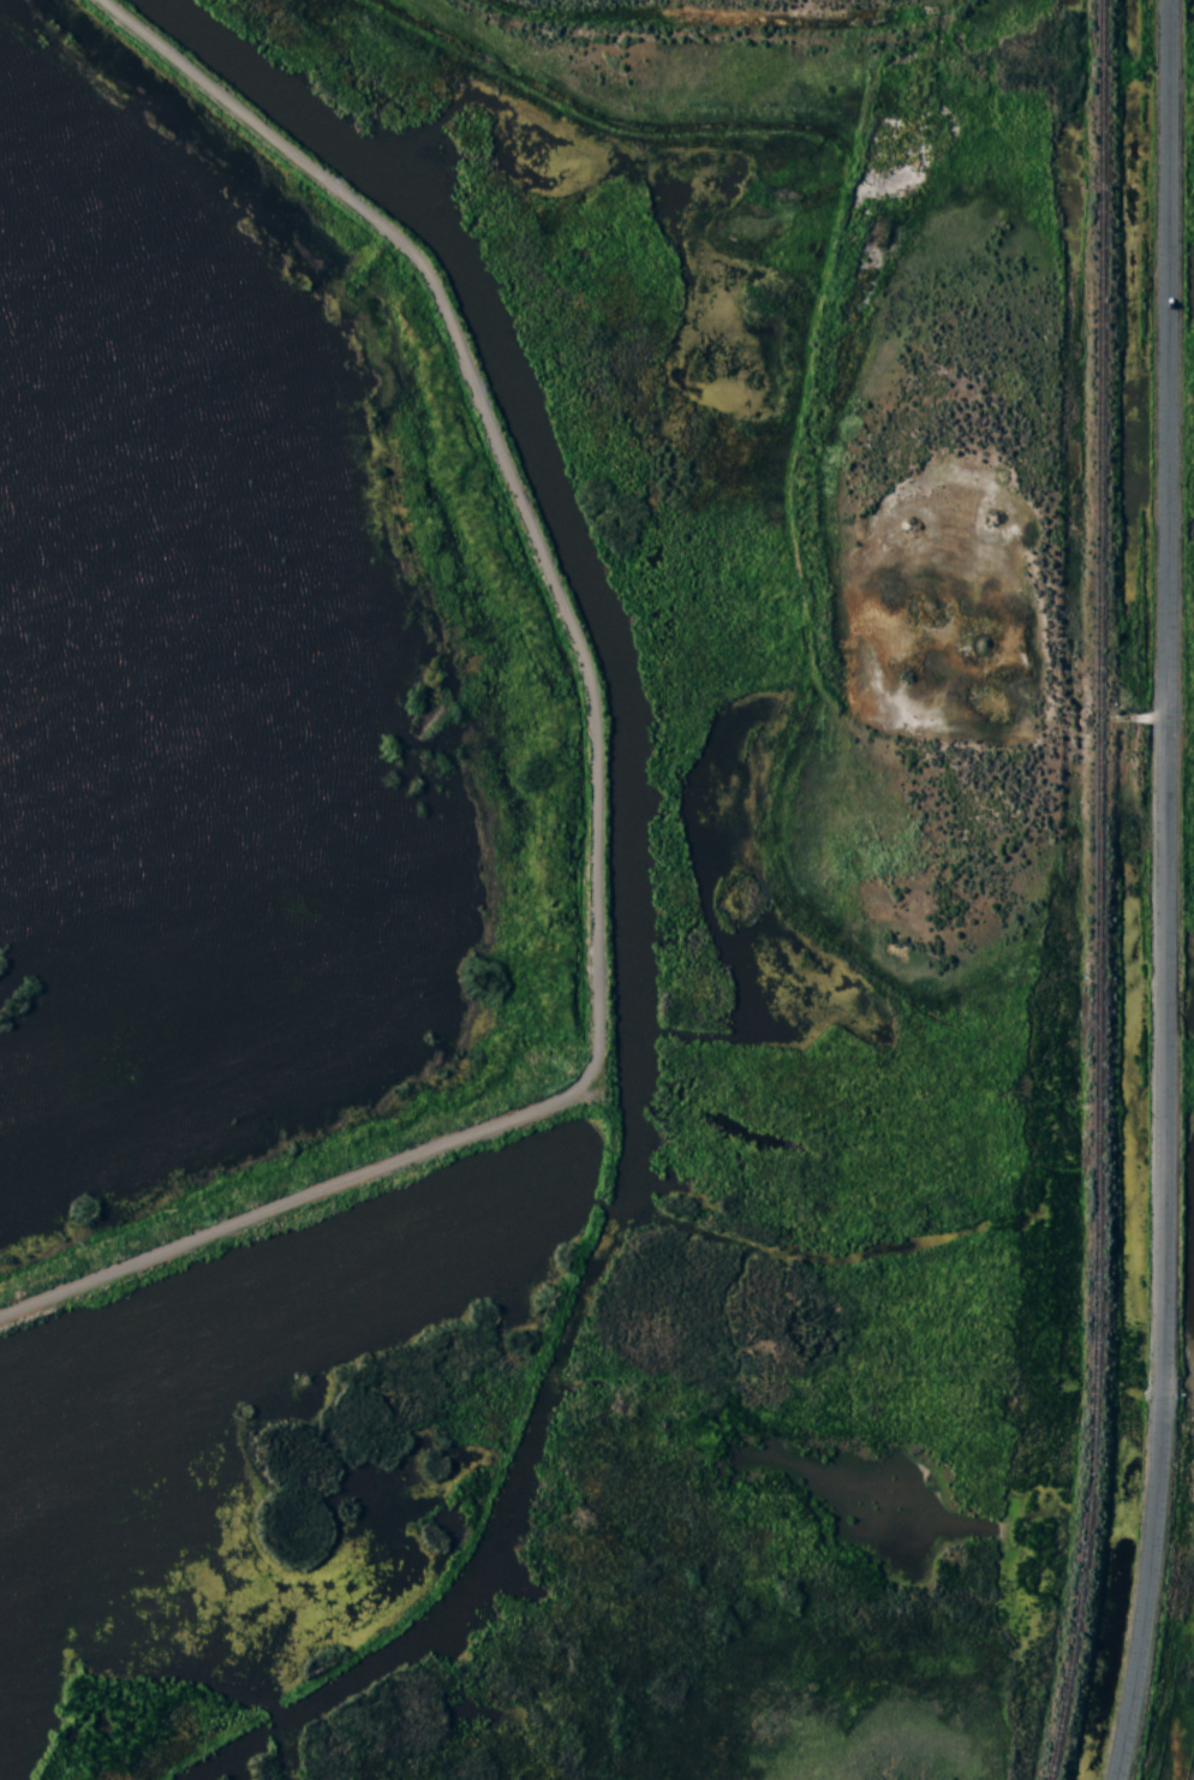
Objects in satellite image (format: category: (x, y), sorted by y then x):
road: (718, 40)
railway: (1105, 891)
road: (1164, 892)

